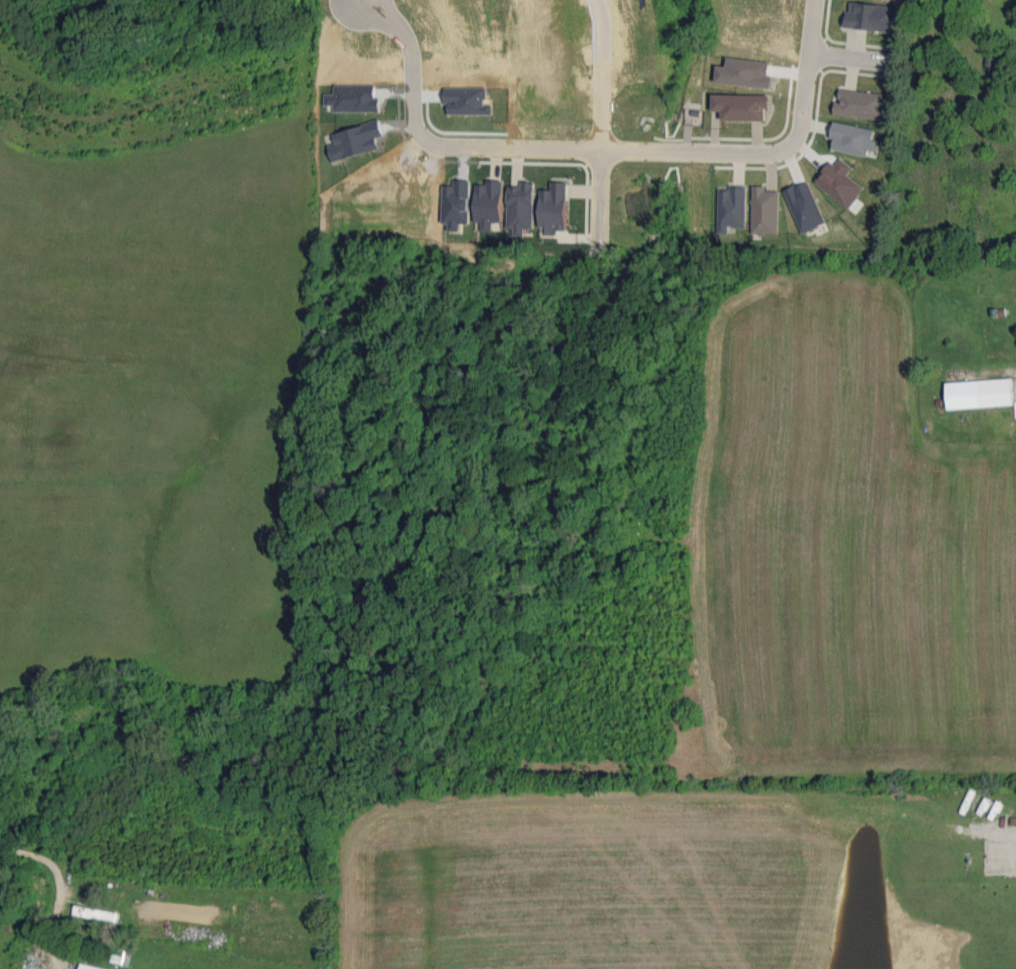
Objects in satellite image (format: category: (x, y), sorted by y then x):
building: (872, 17)
road: (847, 57)
building: (745, 73)
building: (353, 98)
building: (467, 101)
building: (859, 104)
building: (741, 106)
road: (601, 119)
building: (853, 139)
building: (355, 140)
road: (601, 153)
building: (840, 182)
building: (457, 204)
building: (489, 204)
building: (804, 206)
building: (554, 207)
building: (522, 208)
building: (732, 208)
building: (764, 210)
building: (979, 393)
road: (62, 887)
building: (89, 967)

